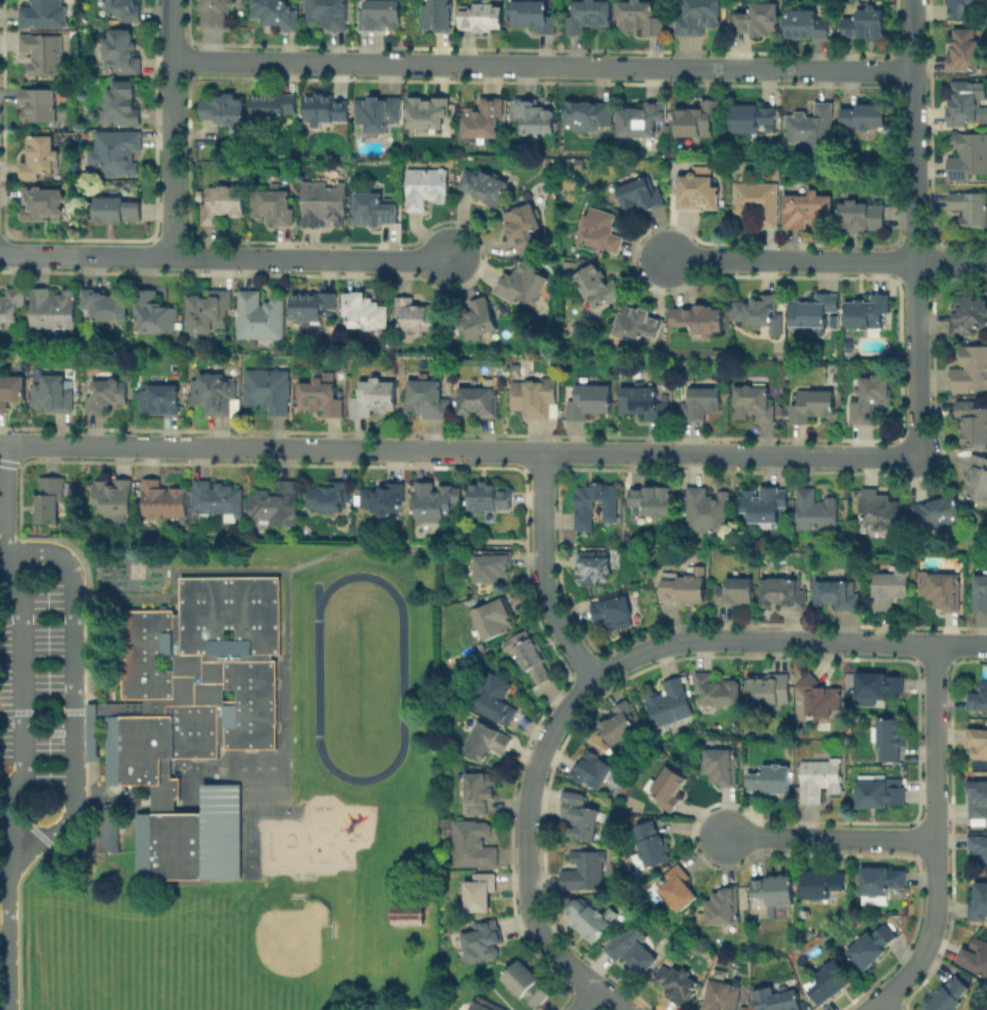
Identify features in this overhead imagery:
building: (960, 9)
building: (125, 10)
building: (44, 15)
building: (216, 15)
building: (277, 15)
building: (328, 15)
building: (534, 16)
building: (381, 17)
building: (439, 17)
building: (590, 18)
building: (698, 18)
building: (483, 19)
building: (642, 19)
building: (759, 22)
building: (802, 25)
building: (867, 25)
building: (966, 51)
building: (123, 54)
building: (44, 56)
road: (544, 66)
building: (968, 99)
building: (125, 106)
building: (40, 108)
building: (224, 110)
building: (274, 110)
building: (431, 112)
building: (328, 113)
building: (378, 115)
building: (588, 117)
building: (866, 118)
building: (536, 119)
building: (700, 119)
building: (754, 120)
building: (485, 121)
building: (642, 121)
road: (173, 128)
building: (812, 128)
building: (969, 154)
building: (117, 155)
building: (39, 159)
building: (426, 187)
building: (486, 188)
building: (698, 193)
building: (637, 194)
building: (756, 203)
building: (44, 204)
building: (223, 204)
building: (322, 205)
building: (274, 208)
building: (970, 210)
building: (809, 211)
building: (376, 212)
building: (119, 213)
building: (861, 217)
road: (915, 227)
building: (525, 228)
building: (606, 231)
road: (226, 258)
road: (827, 261)
building: (524, 286)
building: (598, 287)
building: (11, 305)
building: (107, 306)
building: (312, 308)
building: (813, 311)
building: (54, 314)
building: (209, 314)
building: (365, 314)
building: (156, 315)
building: (868, 315)
building: (417, 316)
building: (757, 316)
building: (968, 317)
building: (261, 318)
building: (699, 320)
building: (479, 322)
building: (641, 327)
building: (971, 367)
building: (270, 392)
building: (12, 394)
building: (106, 394)
building: (216, 395)
building: (54, 396)
building: (323, 397)
building: (375, 399)
building: (427, 399)
building: (869, 399)
building: (530, 400)
building: (640, 400)
building: (164, 401)
building: (478, 402)
building: (591, 403)
building: (752, 403)
building: (701, 406)
building: (812, 407)
building: (972, 419)
road: (457, 450)
building: (977, 479)
road: (3, 498)
building: (116, 499)
building: (332, 499)
building: (488, 500)
building: (218, 501)
building: (385, 501)
building: (49, 503)
building: (164, 503)
building: (433, 505)
building: (595, 505)
building: (648, 505)
building: (277, 507)
building: (765, 508)
building: (815, 511)
building: (704, 512)
building: (877, 513)
building: (937, 516)
road: (54, 553)
road: (300, 564)
building: (594, 567)
building: (491, 570)
road: (546, 571)
road: (1, 582)
building: (891, 590)
building: (683, 592)
building: (734, 594)
building: (946, 594)
building: (837, 595)
building: (980, 595)
building: (784, 596)
road: (38, 606)
building: (613, 615)
building: (492, 620)
road: (962, 645)
building: (532, 662)
track: (401, 677)
building: (878, 688)
parking lot: (33, 690)
road: (74, 690)
building: (717, 691)
building: (769, 692)
road: (582, 694)
building: (821, 695)
road: (4, 697)
building: (494, 700)
building: (978, 700)
building: (668, 705)
building: (194, 720)
building: (621, 723)
building: (891, 741)
building: (980, 741)
building: (485, 743)
building: (723, 763)
building: (594, 768)
building: (773, 777)
road: (41, 781)
building: (822, 781)
building: (672, 784)
building: (881, 789)
building: (479, 794)
building: (979, 794)
road: (2, 797)
building: (581, 819)
road: (59, 828)
building: (108, 832)
road: (937, 838)
road: (831, 839)
building: (980, 842)
building: (472, 845)
building: (651, 847)
building: (584, 873)
building: (887, 876)
building: (826, 880)
building: (777, 887)
building: (682, 888)
building: (478, 894)
road: (7, 896)
building: (727, 903)
building: (979, 905)
building: (406, 913)
building: (588, 922)
building: (481, 943)
building: (874, 946)
building: (636, 948)
park: (228, 953)
building: (975, 956)
building: (680, 979)
park: (104, 980)
building: (831, 984)
building: (525, 985)
building: (950, 994)
building: (721, 995)
building: (778, 999)
road: (593, 1001)
building: (482, 1004)
road: (884, 1007)

